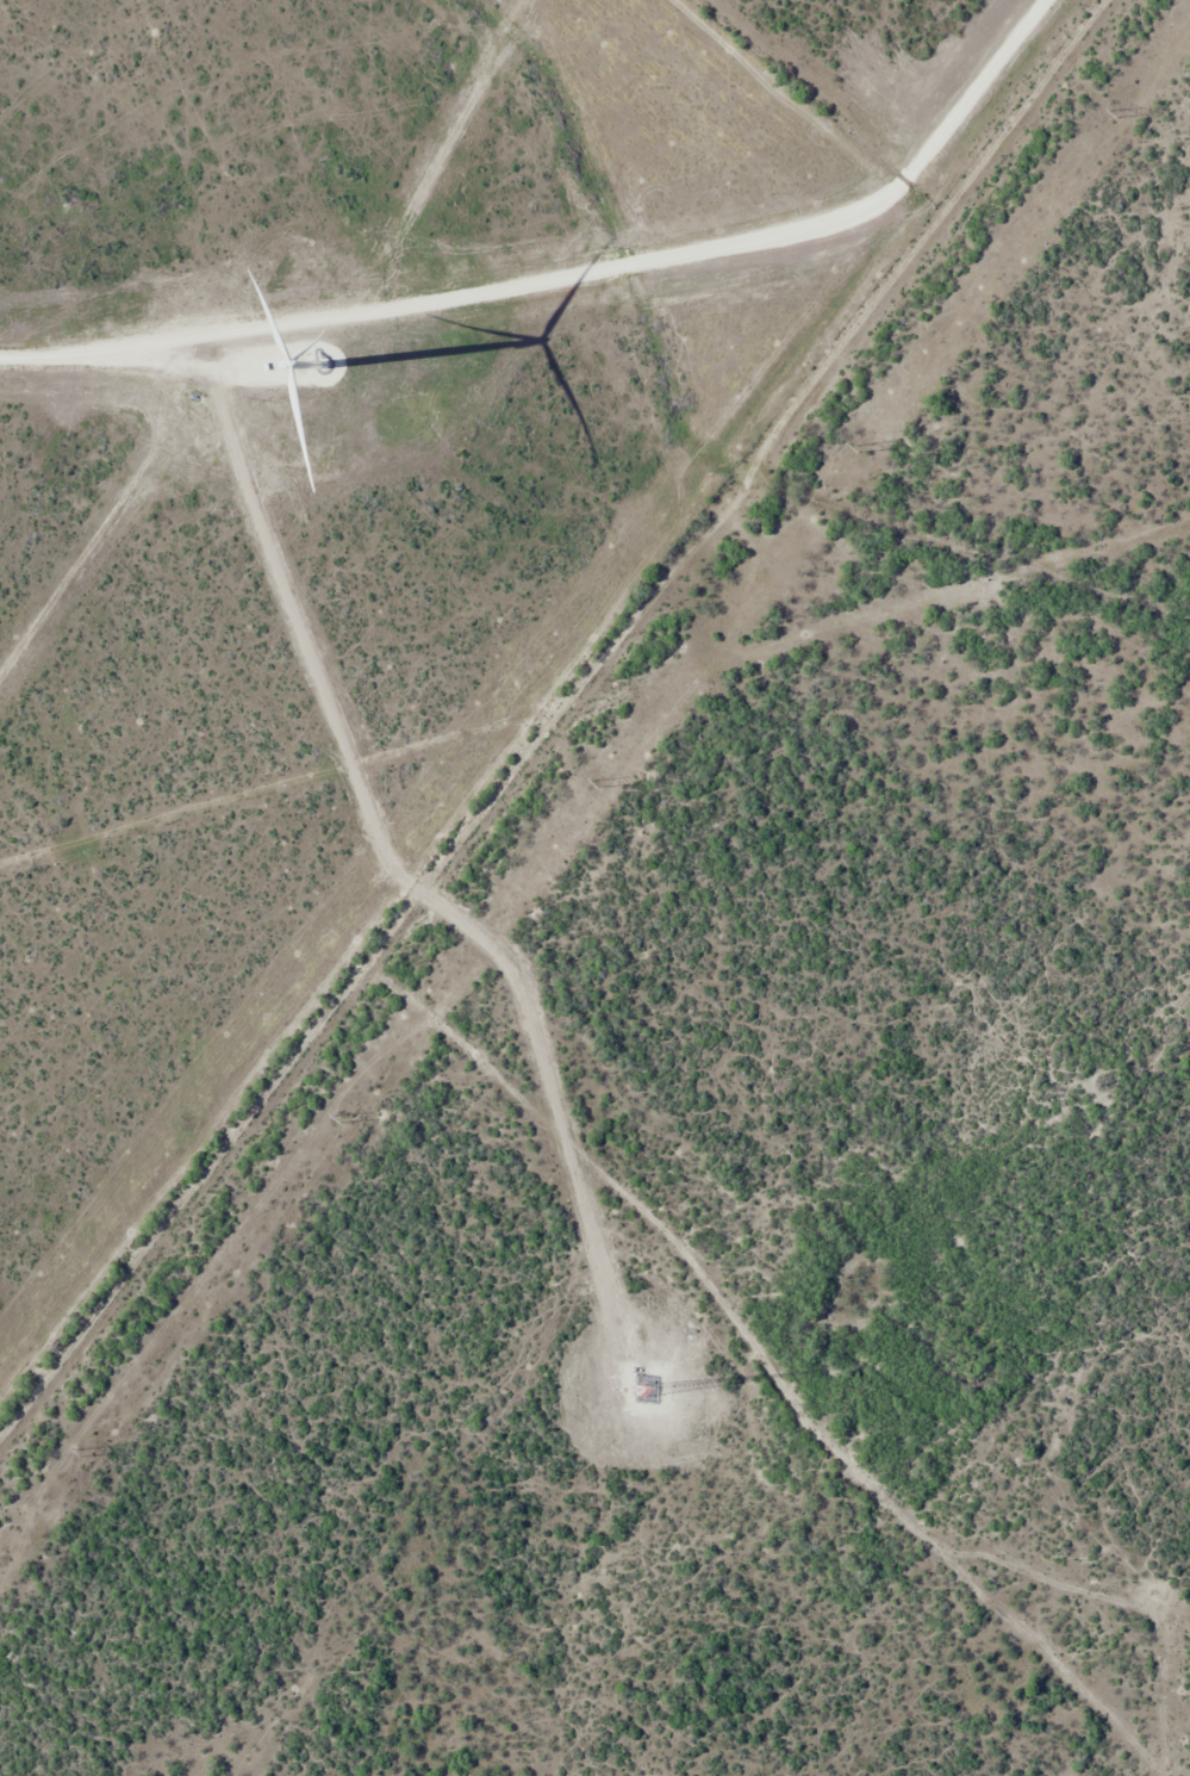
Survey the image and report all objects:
road: (829, 106)
power tower: (1116, 112)
wind turbine: (325, 374)
power tower: (859, 449)
power tower: (599, 783)
power tower: (341, 1118)
power tower: (85, 1452)

